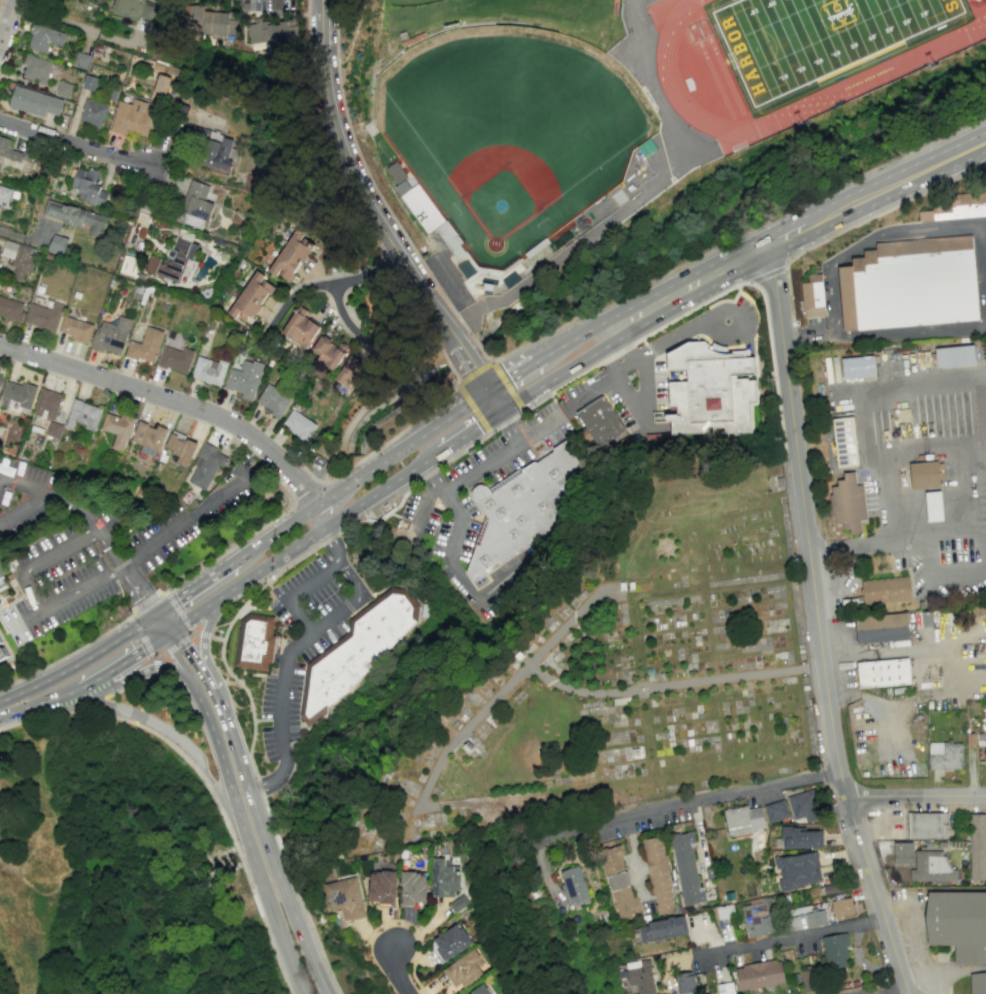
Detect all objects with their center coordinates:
park: (407, 1)
building: (127, 8)
building: (149, 18)
road: (6, 20)
building: (212, 22)
road: (78, 28)
building: (44, 38)
track: (798, 45)
building: (36, 69)
building: (89, 83)
building: (161, 84)
building: (63, 89)
building: (34, 102)
building: (93, 113)
building: (133, 117)
park: (509, 130)
road: (78, 145)
building: (210, 147)
building: (8, 150)
building: (29, 157)
road: (353, 173)
building: (89, 186)
building: (5, 194)
road: (640, 196)
river: (732, 199)
building: (195, 205)
building: (955, 207)
building: (423, 209)
building: (76, 217)
road: (857, 225)
road: (790, 233)
road: (18, 237)
building: (57, 244)
building: (0, 250)
building: (291, 256)
building: (19, 258)
building: (172, 260)
building: (128, 265)
building: (911, 285)
road: (341, 287)
road: (302, 292)
building: (250, 298)
building: (814, 298)
building: (10, 309)
building: (43, 316)
building: (299, 328)
building: (76, 329)
road: (679, 335)
building: (111, 336)
road: (742, 336)
building: (145, 345)
building: (328, 352)
road: (606, 356)
river: (466, 357)
building: (958, 357)
building: (175, 359)
road: (473, 367)
road: (626, 367)
road: (641, 367)
building: (861, 369)
building: (208, 370)
building: (348, 371)
road: (664, 376)
building: (243, 378)
building: (0, 379)
road: (592, 389)
traffic signals: (488, 391)
building: (706, 391)
building: (16, 396)
road: (544, 398)
building: (272, 400)
road: (172, 401)
building: (46, 404)
river: (395, 406)
traffic signals: (499, 411)
road: (636, 411)
building: (83, 415)
building: (600, 423)
building: (298, 425)
building: (53, 429)
building: (117, 429)
road: (538, 429)
building: (149, 438)
building: (847, 442)
building: (180, 448)
road: (495, 456)
road: (376, 463)
building: (205, 466)
road: (432, 476)
building: (928, 476)
road: (389, 483)
road: (24, 486)
river: (366, 491)
road: (422, 504)
building: (852, 504)
road: (79, 505)
road: (24, 506)
road: (330, 506)
parking lot: (437, 507)
building: (937, 508)
building: (519, 509)
road: (271, 518)
road: (184, 523)
road: (882, 541)
parking lot: (96, 542)
road: (330, 547)
road: (111, 549)
road: (60, 553)
road: (333, 570)
road: (456, 577)
building: (3, 578)
road: (350, 580)
road: (134, 583)
road: (81, 589)
road: (29, 593)
building: (893, 595)
road: (151, 596)
road: (153, 604)
road: (138, 605)
road: (148, 608)
traffic signals: (161, 609)
traffic signals: (150, 617)
road: (167, 618)
road: (25, 619)
road: (817, 622)
road: (304, 623)
road: (568, 623)
road: (155, 626)
traffic signals: (174, 627)
road: (167, 631)
road: (190, 631)
building: (890, 633)
road: (201, 634)
road: (202, 634)
traffic signals: (161, 636)
parking lot: (302, 640)
building: (254, 642)
road: (144, 644)
building: (355, 651)
road: (885, 652)
road: (69, 653)
building: (5, 656)
road: (175, 657)
road: (80, 660)
road: (119, 664)
road: (282, 668)
river: (414, 668)
park: (602, 671)
building: (882, 674)
road: (132, 675)
road: (202, 676)
road: (737, 677)
road: (129, 684)
road: (638, 684)
road: (146, 692)
road: (639, 694)
road: (492, 701)
road: (38, 702)
road: (93, 702)
road: (0, 710)
road: (76, 710)
road: (137, 716)
road: (157, 724)
building: (977, 741)
building: (944, 755)
road: (283, 764)
road: (203, 782)
road: (916, 796)
road: (487, 800)
road: (681, 806)
building: (803, 806)
road: (267, 810)
building: (775, 811)
building: (743, 820)
parking lot: (890, 822)
building: (926, 826)
road: (247, 835)
building: (801, 838)
river: (260, 841)
building: (977, 847)
building: (902, 853)
road: (272, 862)
building: (931, 867)
building: (686, 868)
building: (798, 870)
building: (658, 875)
building: (443, 879)
building: (618, 882)
building: (573, 885)
building: (381, 886)
building: (413, 888)
building: (345, 899)
building: (458, 903)
building: (841, 908)
building: (810, 916)
building: (758, 917)
building: (958, 925)
river: (227, 929)
building: (662, 929)
road: (793, 940)
building: (450, 942)
building: (834, 951)
building: (463, 969)
road: (400, 974)
building: (759, 974)
road: (928, 975)
building: (638, 976)
building: (684, 982)
building: (807, 983)
building: (977, 983)
building: (724, 988)
road: (874, 988)
road: (948, 990)
building: (481, 991)

